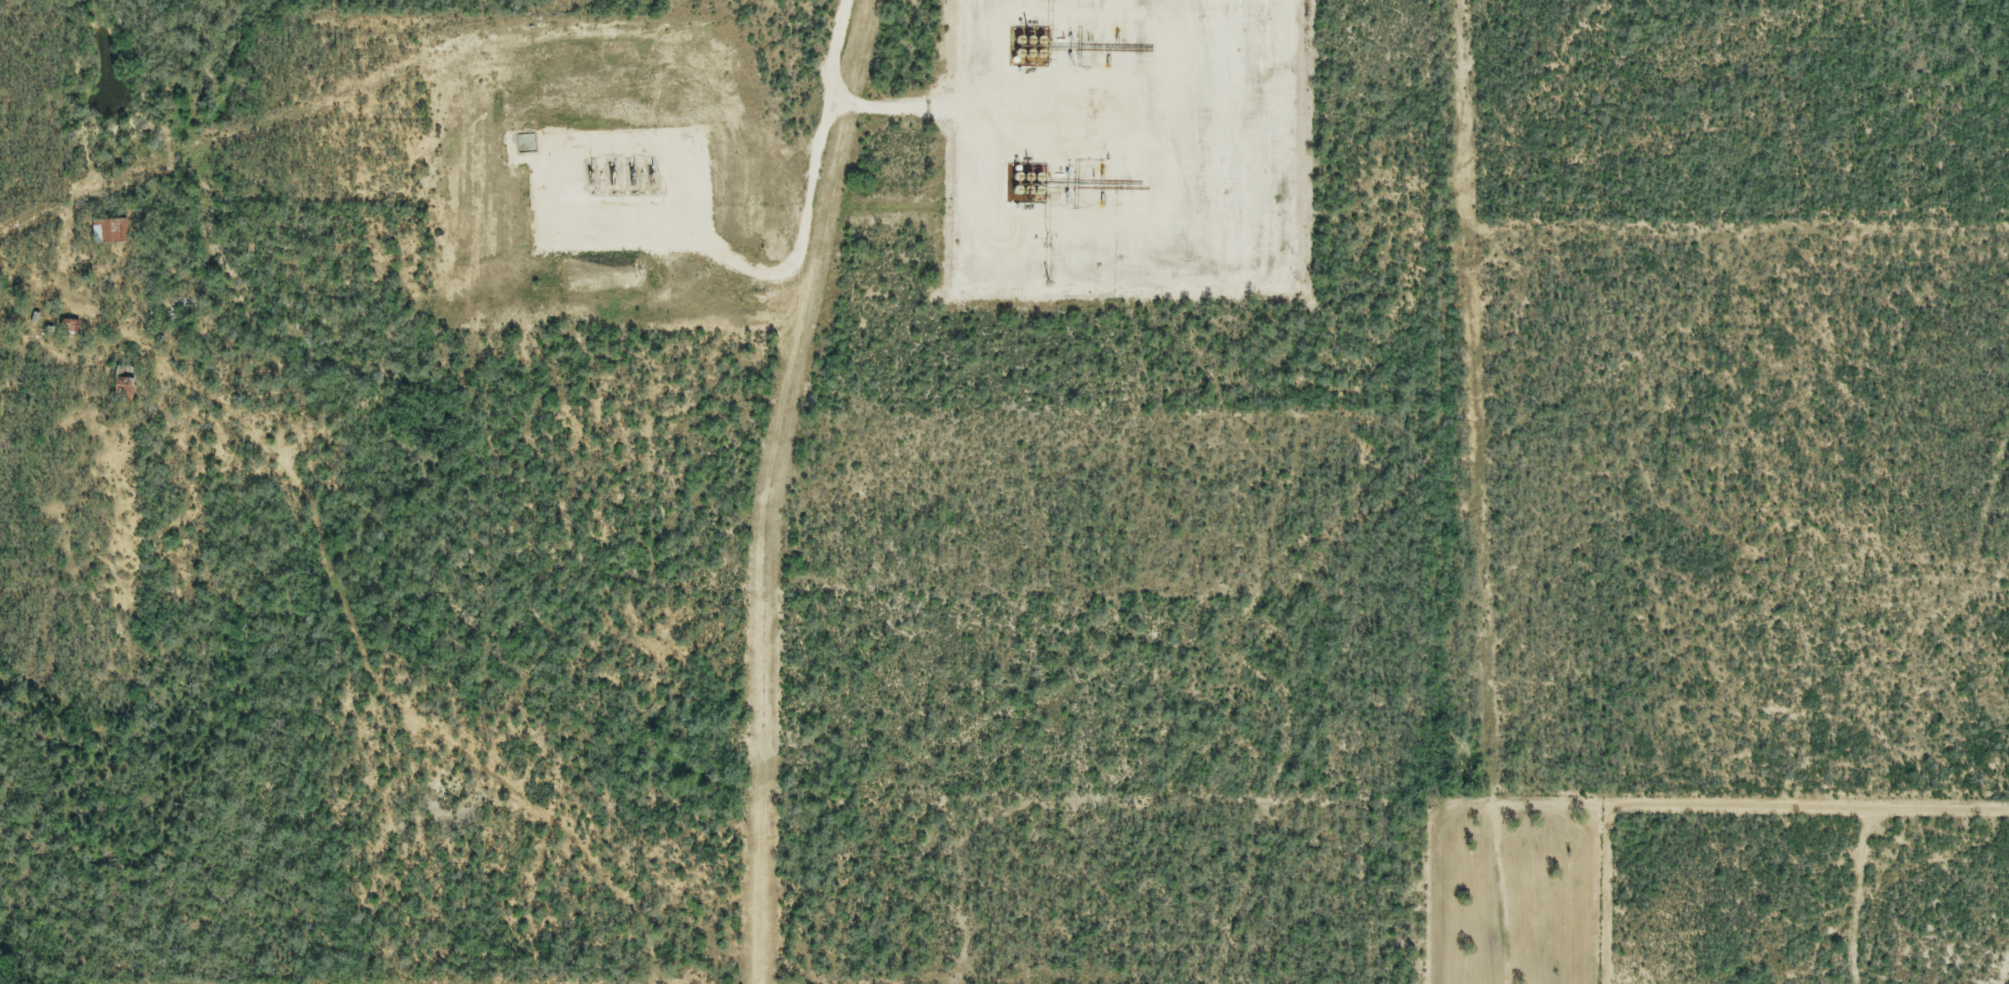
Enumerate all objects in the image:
road: (1251, 20)
road: (1083, 110)
road: (841, 113)
building: (108, 232)
road: (732, 264)
road: (1034, 274)
building: (69, 329)

